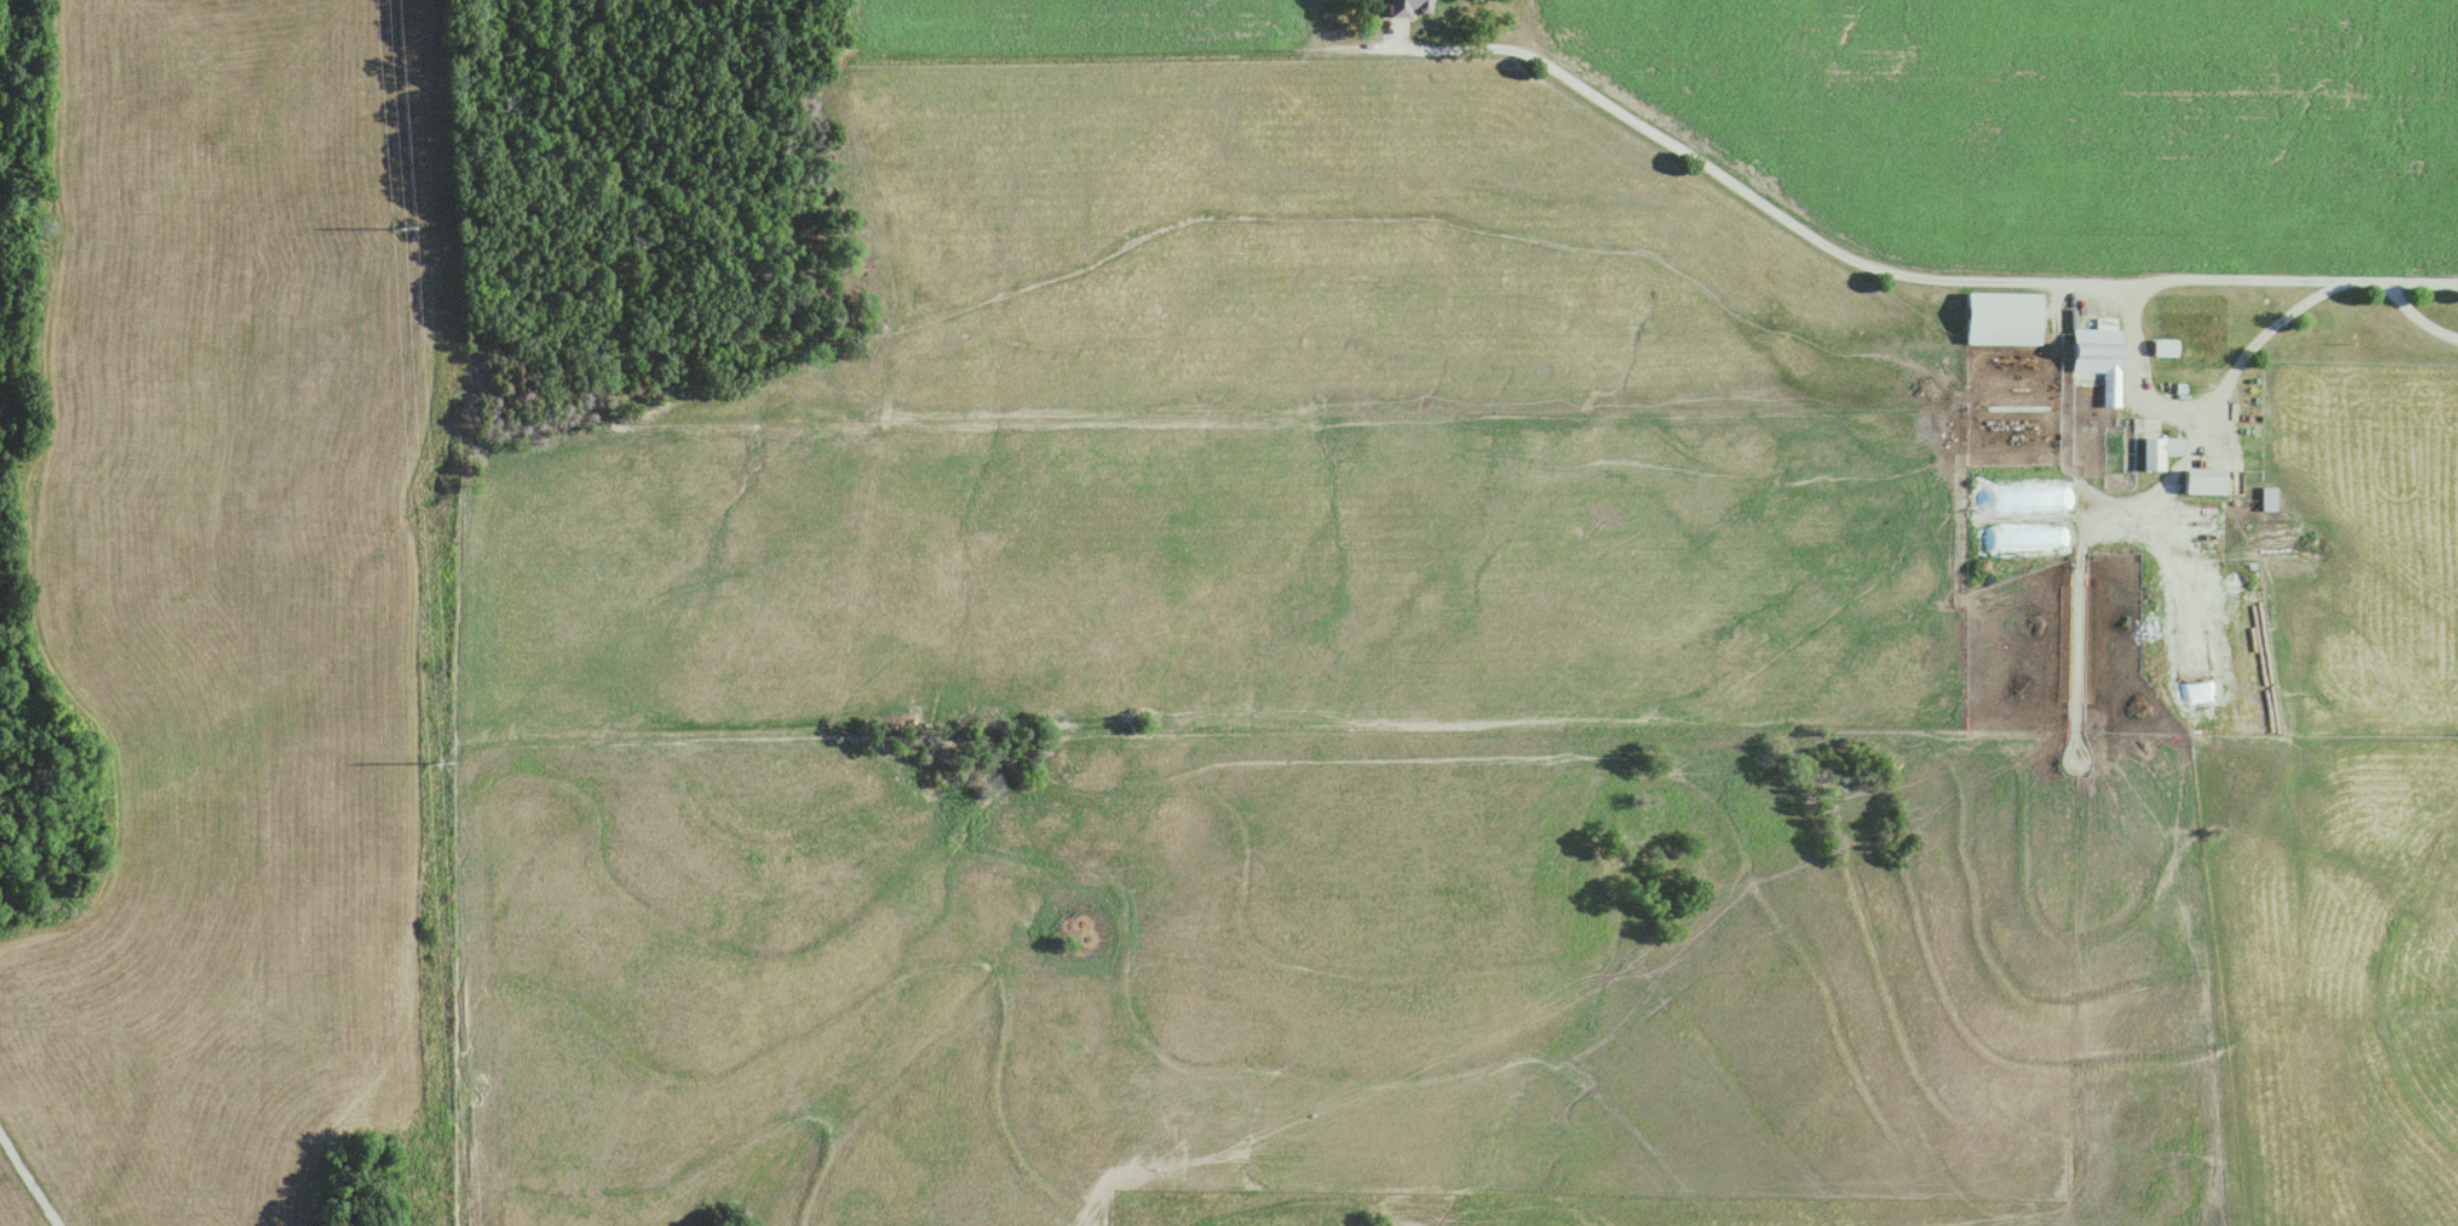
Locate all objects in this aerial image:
building: (1405, 7)
road: (1675, 143)
road: (2206, 277)
road: (2414, 311)
building: (1997, 318)
building: (2098, 357)
road: (2207, 396)
building: (2157, 451)
building: (2200, 483)
road: (2158, 491)

